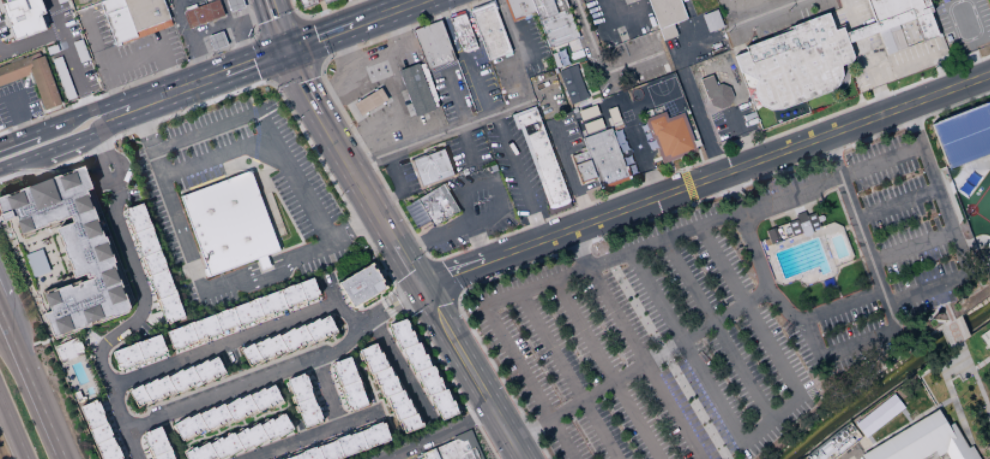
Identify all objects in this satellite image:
building: (927, 0)
building: (941, 0)
building: (324, 1)
road: (348, 1)
building: (305, 3)
road: (399, 3)
building: (554, 3)
building: (236, 4)
road: (269, 4)
building: (561, 6)
building: (896, 7)
road: (373, 8)
building: (517, 8)
building: (541, 8)
road: (258, 11)
building: (666, 12)
building: (204, 13)
road: (320, 13)
road: (851, 13)
road: (53, 15)
road: (378, 15)
building: (23, 17)
road: (299, 17)
road: (754, 17)
building: (134, 18)
gas station: (619, 20)
building: (711, 20)
road: (393, 23)
gas station: (209, 24)
building: (878, 24)
road: (210, 26)
road: (277, 27)
building: (924, 27)
building: (556, 28)
road: (277, 29)
building: (489, 30)
building: (461, 31)
building: (667, 32)
road: (858, 32)
road: (255, 34)
road: (960, 35)
building: (896, 37)
road: (93, 39)
building: (219, 40)
road: (311, 40)
road: (29, 41)
road: (306, 41)
building: (886, 41)
road: (341, 42)
building: (433, 45)
building: (51, 49)
traffic signals: (285, 50)
road: (244, 51)
road: (90, 55)
road: (576, 55)
road: (263, 56)
road: (266, 56)
road: (131, 59)
road: (523, 62)
building: (794, 62)
road: (319, 64)
road: (600, 64)
road: (202, 67)
building: (733, 67)
building: (16, 69)
road: (165, 69)
road: (293, 70)
road: (72, 72)
road: (873, 74)
building: (63, 78)
road: (144, 78)
road: (270, 80)
building: (45, 82)
road: (478, 83)
building: (571, 84)
road: (247, 87)
road: (688, 87)
road: (180, 88)
building: (428, 88)
road: (111, 89)
building: (414, 89)
gas station: (385, 91)
building: (715, 92)
road: (320, 98)
road: (456, 98)
road: (651, 100)
building: (368, 101)
road: (409, 106)
road: (17, 115)
road: (73, 116)
road: (913, 124)
road: (216, 126)
road: (31, 133)
road: (435, 135)
building: (669, 135)
building: (963, 135)
road: (738, 137)
road: (76, 138)
road: (12, 139)
road: (268, 140)
road: (639, 145)
road: (349, 146)
road: (464, 146)
road: (337, 152)
building: (539, 155)
building: (577, 156)
building: (603, 157)
road: (17, 159)
building: (430, 168)
road: (853, 169)
building: (582, 171)
road: (567, 173)
road: (518, 176)
road: (703, 179)
road: (400, 187)
road: (461, 193)
road: (896, 202)
building: (430, 207)
road: (854, 216)
building: (230, 223)
road: (635, 224)
road: (466, 226)
road: (523, 227)
building: (791, 228)
road: (478, 242)
road: (913, 246)
building: (70, 249)
road: (287, 257)
road: (431, 260)
building: (265, 262)
building: (36, 263)
building: (153, 263)
road: (266, 264)
road: (407, 269)
building: (206, 272)
road: (412, 273)
road: (240, 274)
park: (889, 275)
road: (440, 278)
building: (361, 285)
road: (201, 287)
traffic signals: (418, 287)
road: (776, 289)
road: (455, 296)
road: (403, 299)
road: (141, 303)
road: (430, 303)
parking lot: (736, 308)
road: (1, 313)
building: (242, 314)
road: (719, 328)
road: (956, 333)
road: (240, 337)
building: (985, 337)
building: (287, 340)
road: (635, 344)
road: (686, 348)
building: (67, 349)
building: (138, 352)
road: (773, 352)
road: (667, 359)
road: (980, 361)
road: (643, 366)
building: (422, 369)
road: (605, 369)
road: (279, 370)
road: (394, 370)
road: (469, 372)
road: (568, 375)
park: (984, 380)
building: (175, 382)
road: (530, 382)
road: (30, 384)
building: (348, 384)
road: (977, 384)
road: (453, 385)
building: (389, 388)
road: (325, 393)
building: (303, 400)
building: (224, 413)
building: (877, 416)
road: (13, 427)
building: (99, 430)
road: (434, 435)
road: (314, 436)
building: (238, 440)
building: (922, 441)
building: (157, 444)
building: (346, 445)
building: (457, 447)
road: (932, 447)
building: (423, 454)
road: (62, 455)
road: (847, 455)

